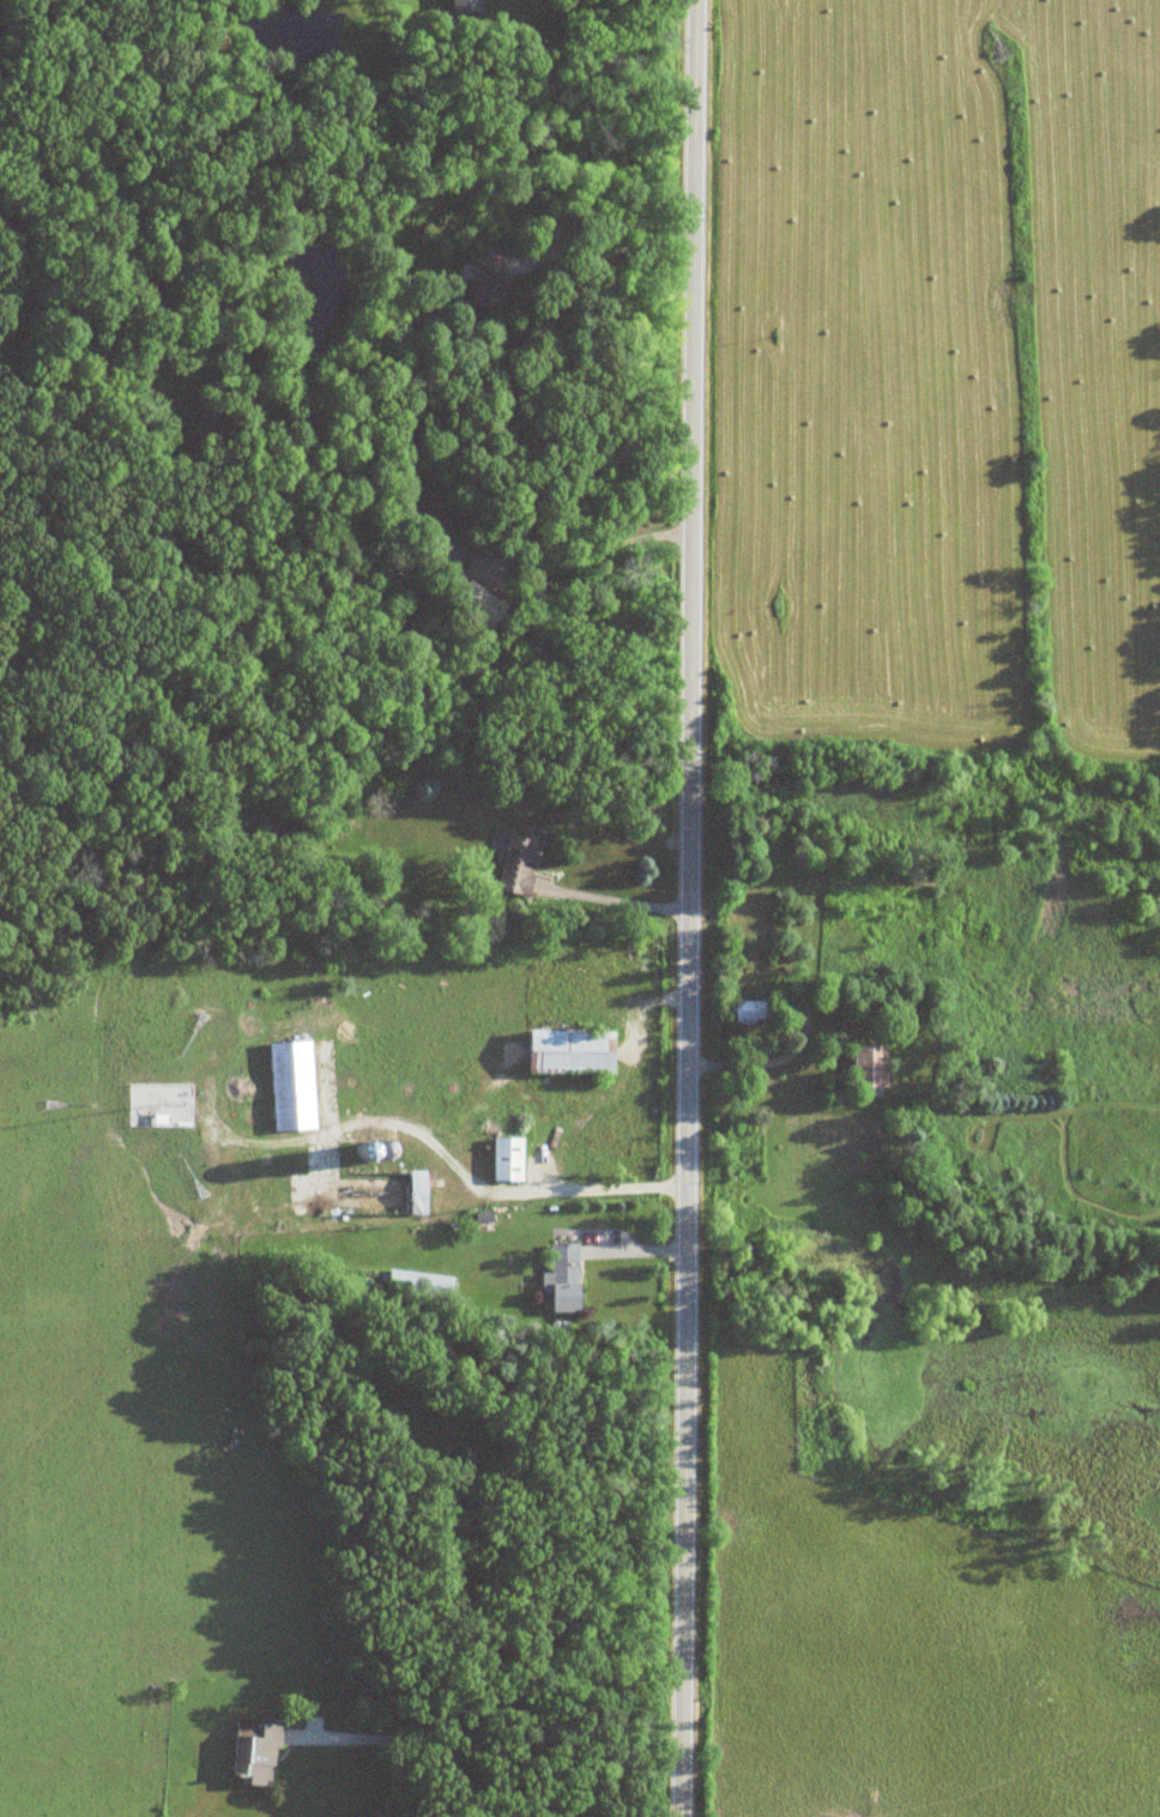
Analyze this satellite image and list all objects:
building: (469, 5)
road: (606, 255)
building: (491, 289)
building: (443, 542)
road: (597, 543)
building: (519, 865)
road: (617, 894)
road: (685, 907)
building: (756, 1009)
building: (574, 1050)
building: (872, 1063)
building: (294, 1085)
building: (510, 1158)
road: (500, 1189)
building: (419, 1193)
building: (566, 1276)
building: (421, 1284)
road: (425, 1749)
building: (258, 1753)

